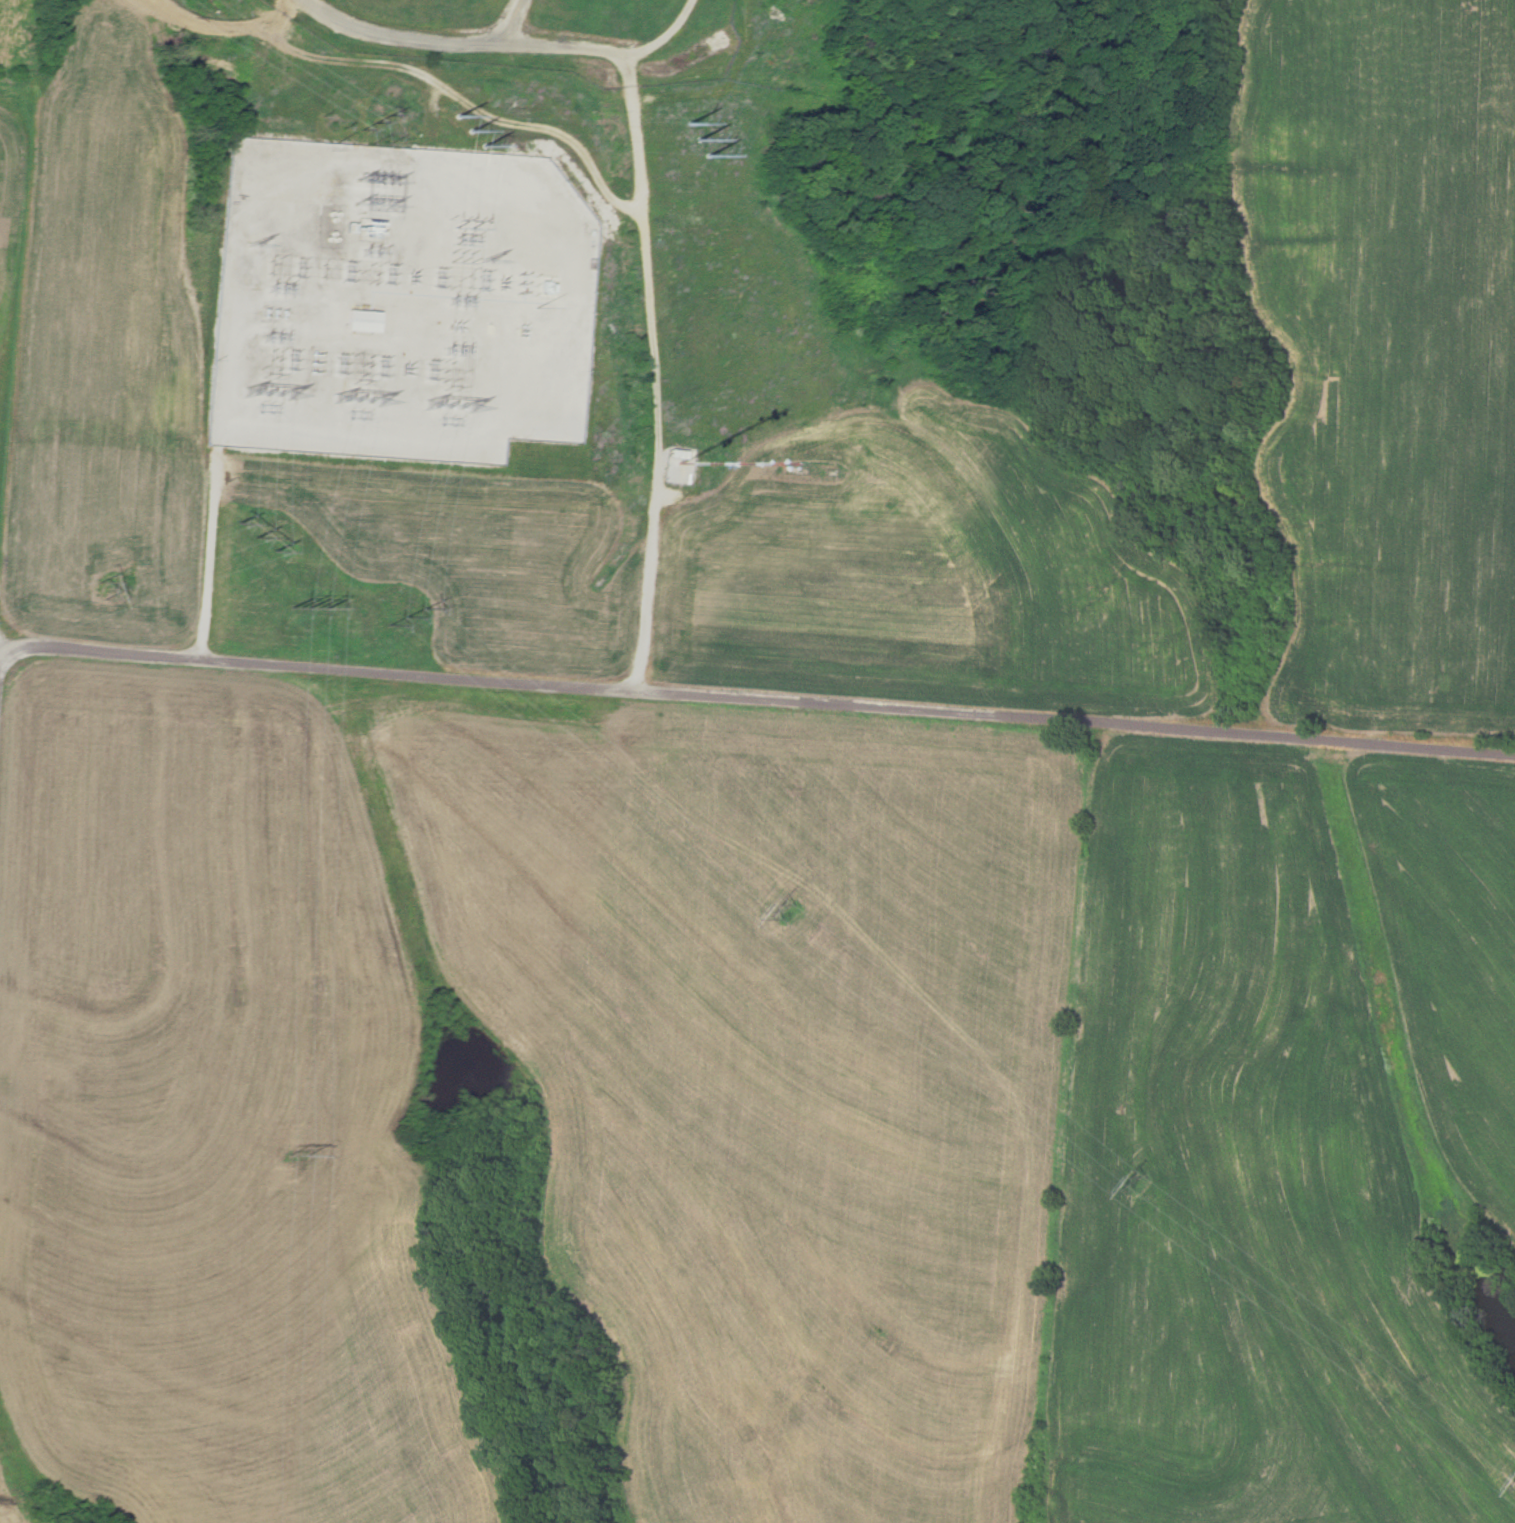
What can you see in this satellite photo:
road: (667, 40)
crop: (19, 42)
road: (451, 46)
road: (537, 117)
power tower: (372, 127)
power tower: (468, 131)
power tower: (691, 138)
crop: (9, 214)
power substation: (396, 289)
road: (18, 304)
building: (364, 320)
crop: (108, 351)
crop: (1380, 354)
road: (653, 384)
power tower: (266, 396)
power tower: (358, 402)
power tower: (450, 409)
power tower: (251, 532)
road: (209, 540)
power tower: (95, 582)
power tower: (304, 603)
power tower: (404, 609)
road: (1, 658)
road: (755, 706)
power tower: (784, 904)
crop: (767, 1066)
crop: (217, 1116)
crop: (1277, 1139)
power tower: (294, 1157)
power tower: (1141, 1183)
crop: (17, 1490)

